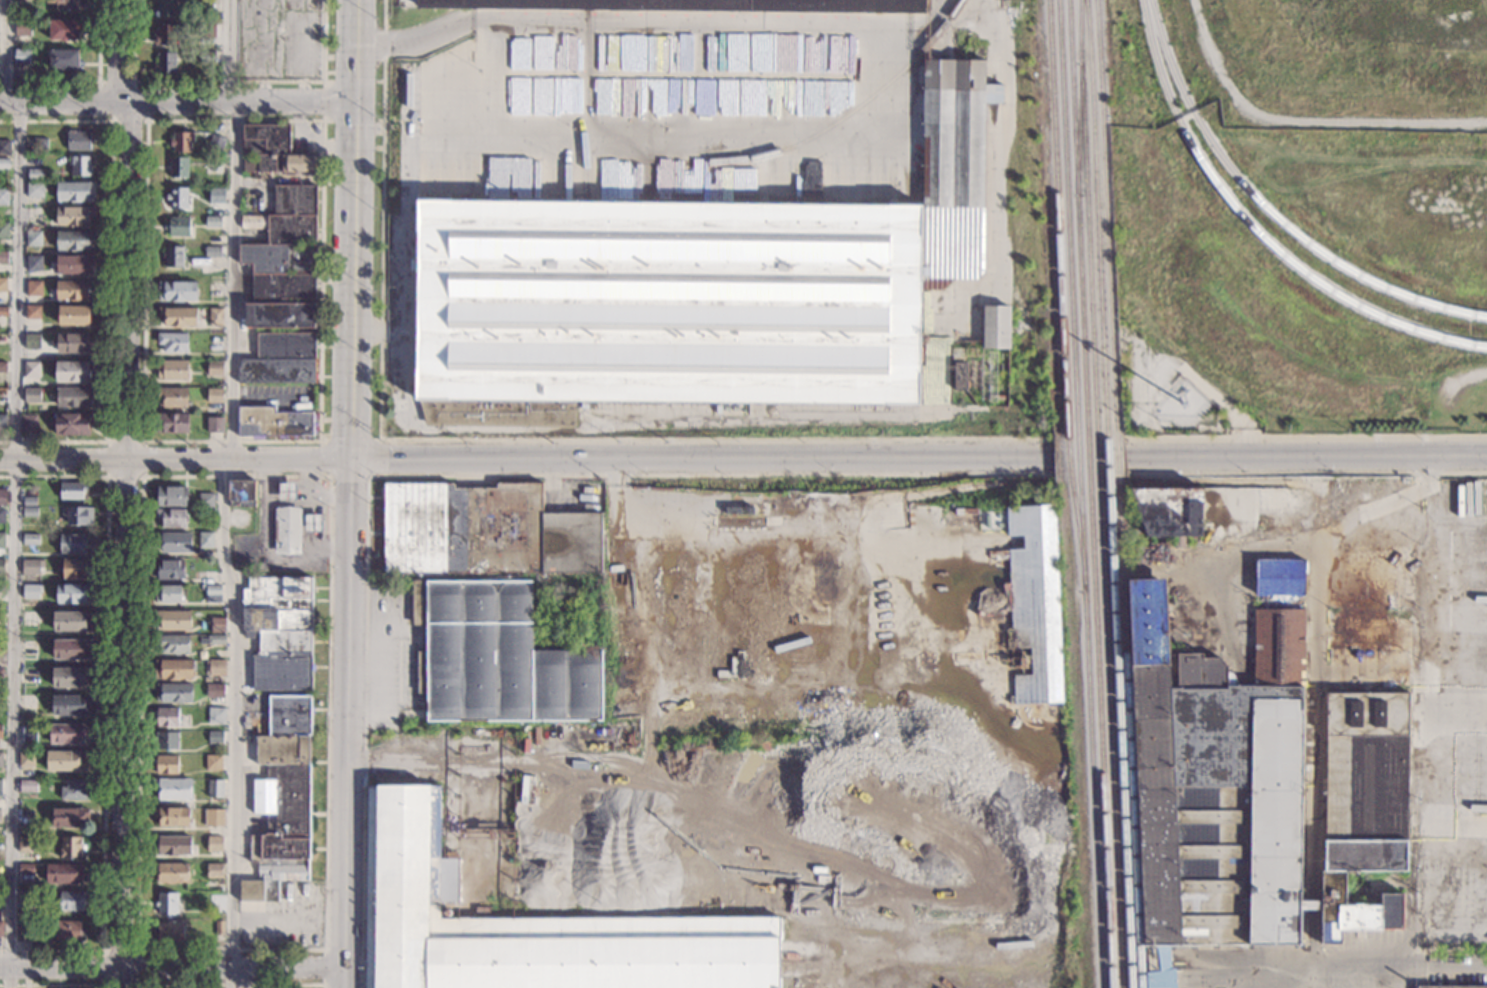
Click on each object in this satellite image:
road: (408, 0)
building: (22, 2)
building: (61, 3)
building: (682, 5)
building: (165, 8)
road: (929, 20)
building: (21, 27)
road: (927, 29)
building: (62, 30)
building: (207, 31)
building: (163, 34)
parking lot: (279, 39)
building: (20, 56)
building: (206, 57)
building: (62, 59)
building: (164, 63)
road: (89, 81)
road: (228, 81)
road: (353, 81)
road: (908, 92)
road: (178, 100)
road: (323, 100)
road: (353, 120)
road: (147, 121)
building: (393, 127)
railway: (1078, 130)
railway: (815, 135)
building: (78, 140)
building: (181, 142)
building: (39, 144)
building: (216, 144)
building: (5, 148)
building: (273, 152)
building: (4, 164)
building: (80, 166)
building: (179, 168)
building: (35, 175)
building: (34, 190)
building: (75, 192)
building: (216, 195)
building: (3, 197)
building: (177, 198)
railway: (1268, 211)
building: (33, 215)
building: (74, 216)
building: (287, 216)
road: (382, 219)
building: (213, 222)
building: (178, 226)
building: (3, 230)
railway: (1256, 231)
building: (33, 239)
building: (75, 240)
building: (213, 252)
road: (408, 253)
building: (174, 256)
building: (4, 258)
building: (278, 258)
building: (34, 264)
building: (74, 264)
road: (110, 279)
building: (3, 285)
building: (282, 287)
building: (33, 289)
building: (215, 290)
building: (696, 290)
building: (75, 291)
building: (177, 291)
railway: (1060, 294)
railway: (1071, 294)
building: (4, 312)
building: (32, 312)
building: (75, 314)
building: (280, 315)
building: (178, 316)
building: (215, 316)
building: (996, 327)
road: (381, 333)
building: (3, 339)
building: (31, 341)
building: (72, 342)
building: (173, 342)
building: (285, 345)
building: (2, 367)
building: (215, 368)
building: (31, 370)
building: (173, 370)
building: (73, 371)
building: (277, 371)
building: (960, 377)
building: (2, 393)
building: (32, 395)
building: (74, 396)
building: (214, 396)
building: (173, 397)
building: (273, 422)
building: (3, 423)
building: (29, 423)
building: (172, 423)
building: (71, 424)
building: (214, 425)
road: (1305, 437)
road: (715, 438)
road: (331, 440)
road: (318, 441)
road: (1307, 457)
road: (175, 462)
road: (701, 462)
road: (1306, 474)
road: (454, 476)
road: (108, 477)
road: (329, 477)
building: (72, 490)
road: (14, 492)
building: (287, 492)
road: (125, 493)
road: (223, 493)
road: (350, 493)
railway: (1108, 493)
railway: (1118, 493)
building: (241, 494)
railway: (1090, 494)
railway: (1099, 494)
building: (171, 496)
building: (3, 497)
building: (206, 500)
building: (29, 501)
building: (739, 511)
building: (1170, 511)
building: (30, 512)
building: (205, 513)
building: (2, 515)
building: (79, 516)
building: (171, 518)
building: (313, 523)
building: (462, 528)
building: (287, 531)
building: (31, 539)
building: (205, 540)
building: (2, 541)
building: (174, 542)
building: (73, 543)
building: (571, 543)
building: (2, 566)
building: (31, 566)
building: (75, 568)
building: (170, 570)
building: (1280, 577)
building: (31, 591)
building: (168, 593)
building: (73, 594)
building: (213, 594)
building: (278, 604)
building: (1034, 605)
road: (1434, 605)
building: (30, 619)
building: (174, 620)
building: (72, 622)
building: (218, 624)
building: (216, 640)
building: (172, 644)
building: (2, 645)
building: (72, 649)
building: (497, 657)
building: (283, 661)
building: (217, 667)
building: (173, 670)
building: (1, 672)
building: (70, 676)
building: (214, 692)
building: (174, 693)
building: (29, 702)
building: (71, 705)
road: (105, 711)
building: (216, 715)
building: (290, 715)
building: (167, 717)
building: (1, 732)
building: (66, 733)
building: (213, 737)
building: (167, 741)
building: (26, 759)
building: (1, 760)
building: (66, 760)
building: (213, 762)
building: (166, 764)
building: (27, 786)
building: (0, 788)
railway: (1095, 788)
building: (174, 789)
building: (214, 789)
building: (76, 790)
building: (1254, 790)
building: (0, 811)
building: (26, 816)
building: (280, 816)
building: (172, 817)
building: (214, 817)
building: (69, 818)
building: (26, 844)
building: (214, 844)
building: (171, 845)
building: (71, 847)
building: (0, 849)
building: (26, 869)
building: (214, 870)
building: (172, 873)
building: (64, 874)
building: (26, 899)
building: (73, 900)
building: (167, 903)
building: (528, 926)
building: (219, 928)
building: (1, 929)
building: (66, 931)
building: (24, 932)
building: (170, 932)
road: (1452, 948)
road: (1400, 964)
road: (325, 967)
road: (171, 972)
road: (137, 985)
road: (230, 985)
road: (52, 986)
building: (1340, 987)
building: (1448, 987)

